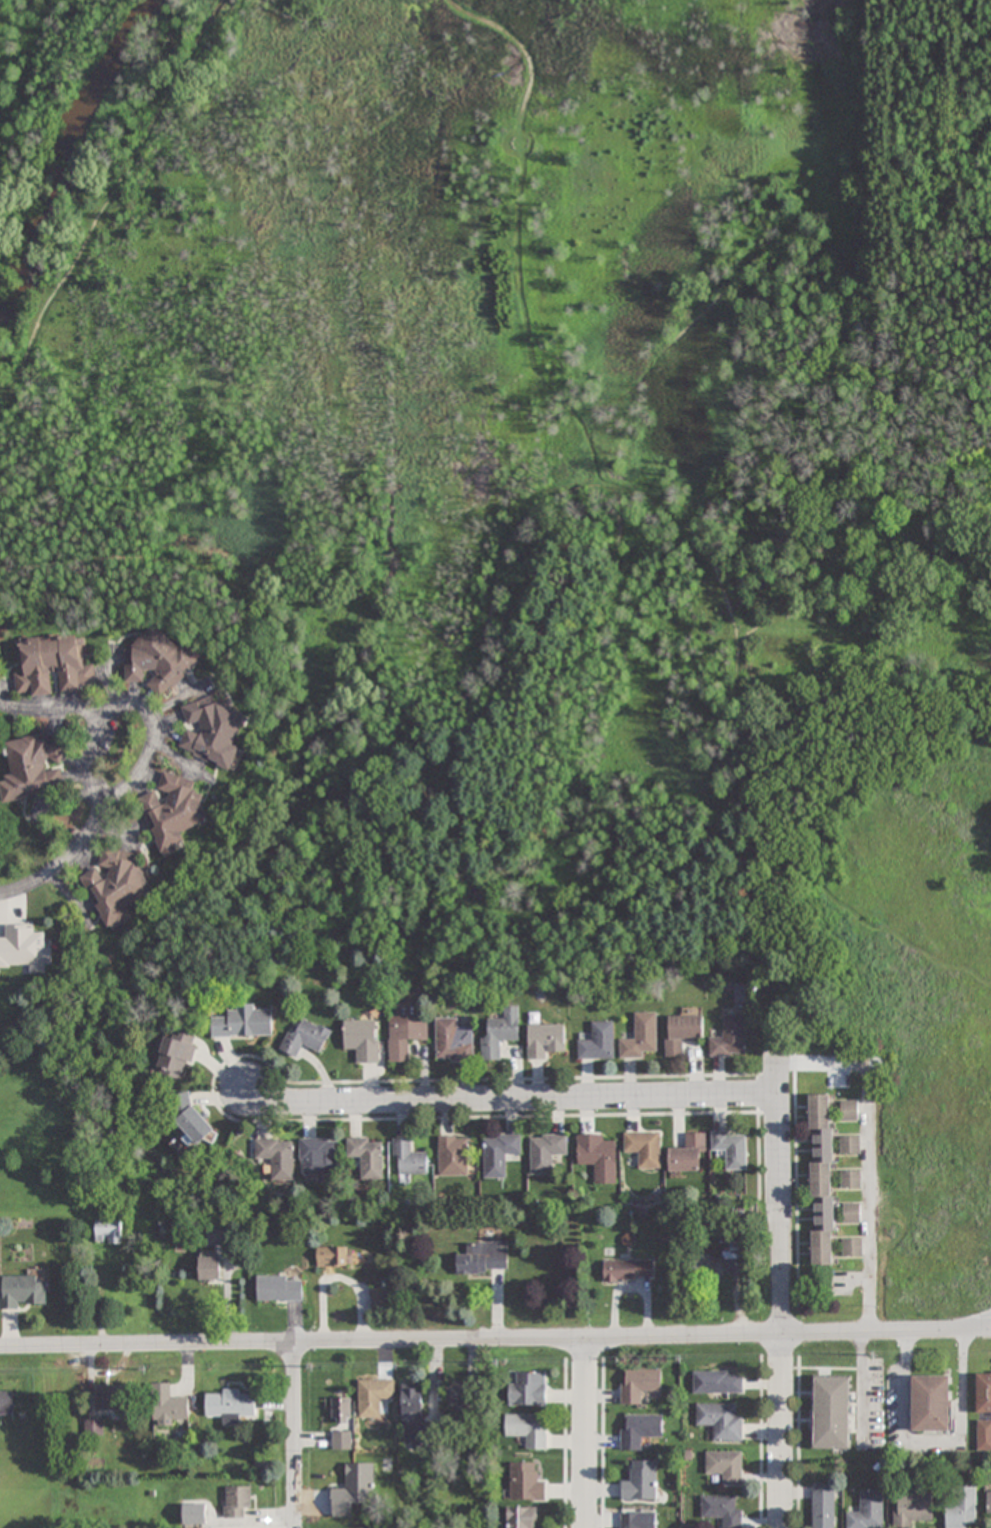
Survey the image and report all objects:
river: (65, 147)
park: (494, 434)
park: (936, 542)
building: (157, 663)
building: (53, 667)
building: (213, 734)
building: (35, 768)
building: (173, 813)
road: (80, 835)
building: (116, 887)
building: (25, 949)
building: (244, 1024)
building: (406, 1032)
building: (681, 1034)
building: (500, 1035)
building: (641, 1038)
building: (306, 1039)
building: (729, 1039)
building: (363, 1041)
road: (776, 1041)
building: (453, 1042)
building: (545, 1042)
building: (598, 1043)
building: (177, 1058)
road: (514, 1102)
building: (849, 1110)
building: (194, 1120)
building: (849, 1145)
building: (644, 1149)
building: (731, 1150)
building: (546, 1152)
building: (499, 1155)
building: (687, 1155)
road: (869, 1155)
building: (598, 1156)
building: (453, 1157)
building: (278, 1158)
building: (320, 1158)
building: (368, 1158)
building: (410, 1160)
building: (851, 1179)
building: (821, 1180)
building: (852, 1212)
building: (109, 1232)
building: (216, 1235)
building: (852, 1247)
building: (339, 1257)
building: (484, 1259)
building: (210, 1266)
building: (720, 1267)
building: (627, 1271)
building: (280, 1288)
building: (21, 1292)
building: (380, 1299)
road: (782, 1312)
road: (979, 1325)
road: (495, 1341)
building: (639, 1384)
building: (718, 1384)
building: (529, 1390)
building: (983, 1394)
building: (459, 1396)
building: (110, 1398)
building: (373, 1398)
building: (6, 1403)
building: (931, 1403)
building: (412, 1404)
building: (168, 1406)
building: (230, 1406)
building: (342, 1410)
building: (832, 1413)
building: (721, 1421)
building: (528, 1429)
building: (639, 1431)
road: (586, 1433)
road: (295, 1435)
building: (984, 1436)
building: (342, 1441)
building: (725, 1467)
building: (526, 1483)
building: (641, 1483)
building: (354, 1490)
building: (237, 1502)
building: (988, 1503)
building: (823, 1507)
building: (960, 1507)
building: (723, 1509)
building: (912, 1509)
building: (867, 1511)
building: (521, 1517)

